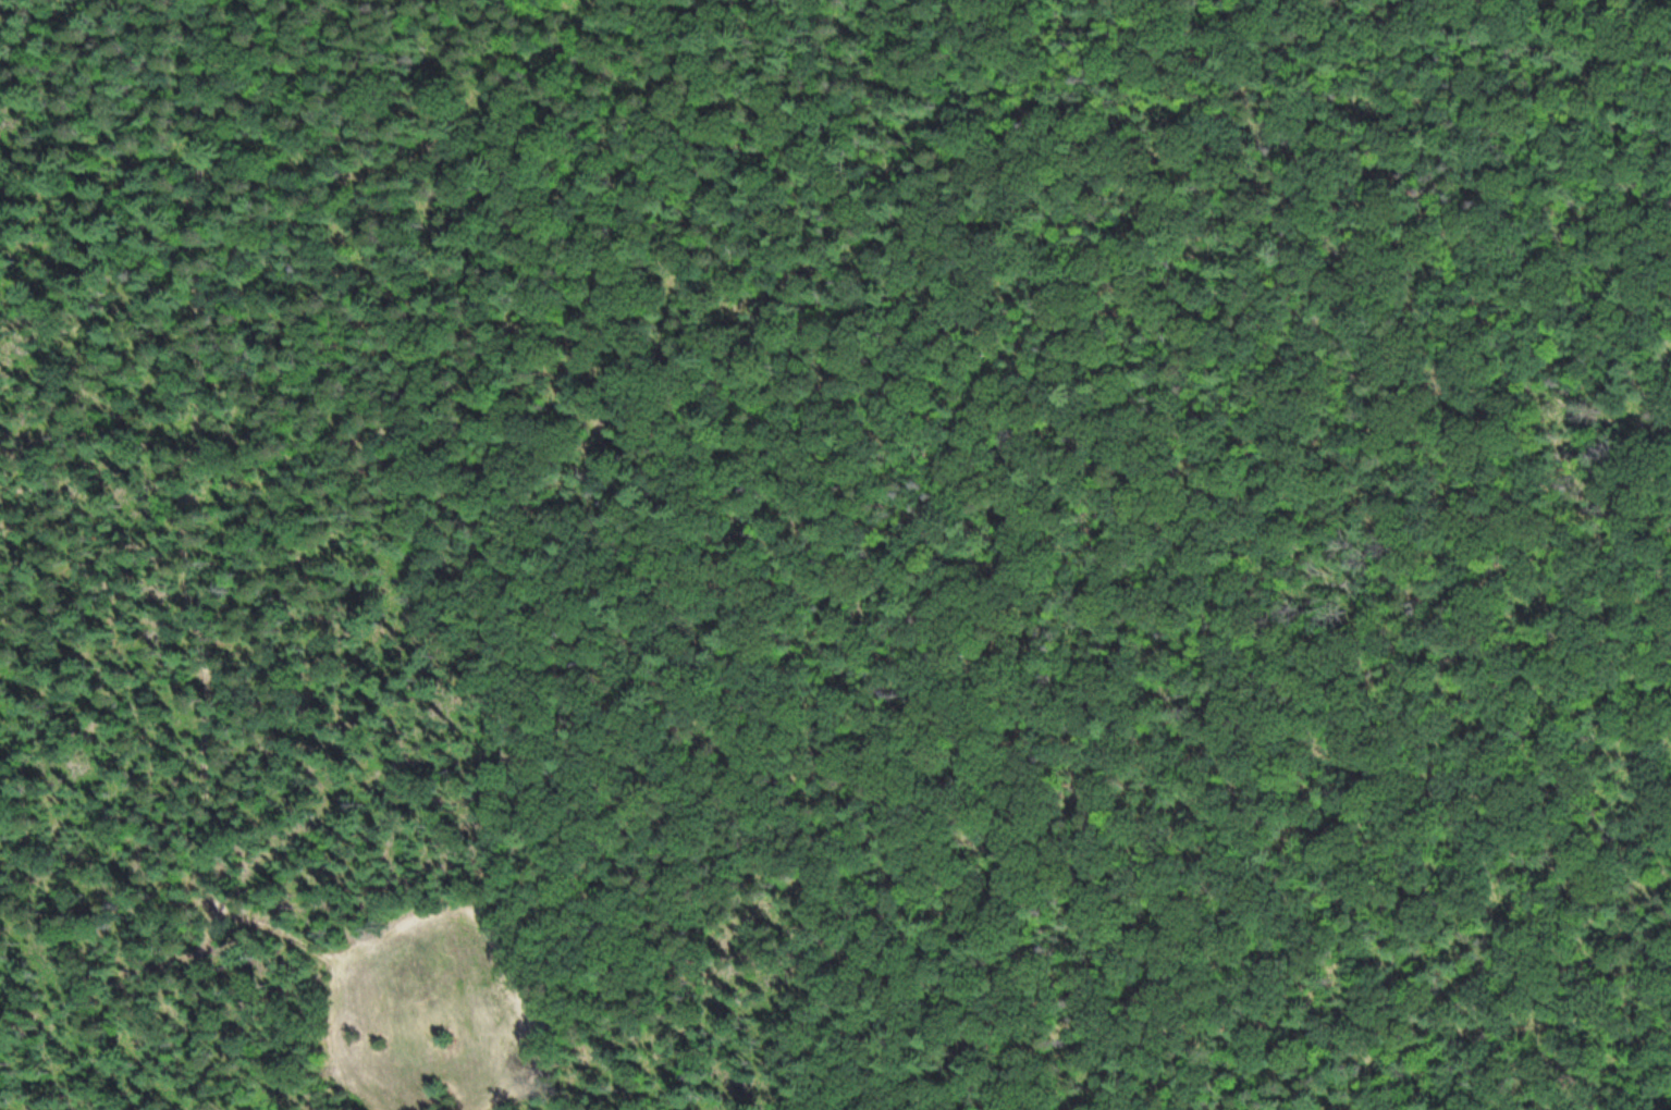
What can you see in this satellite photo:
road: (189, 521)
road: (849, 544)

